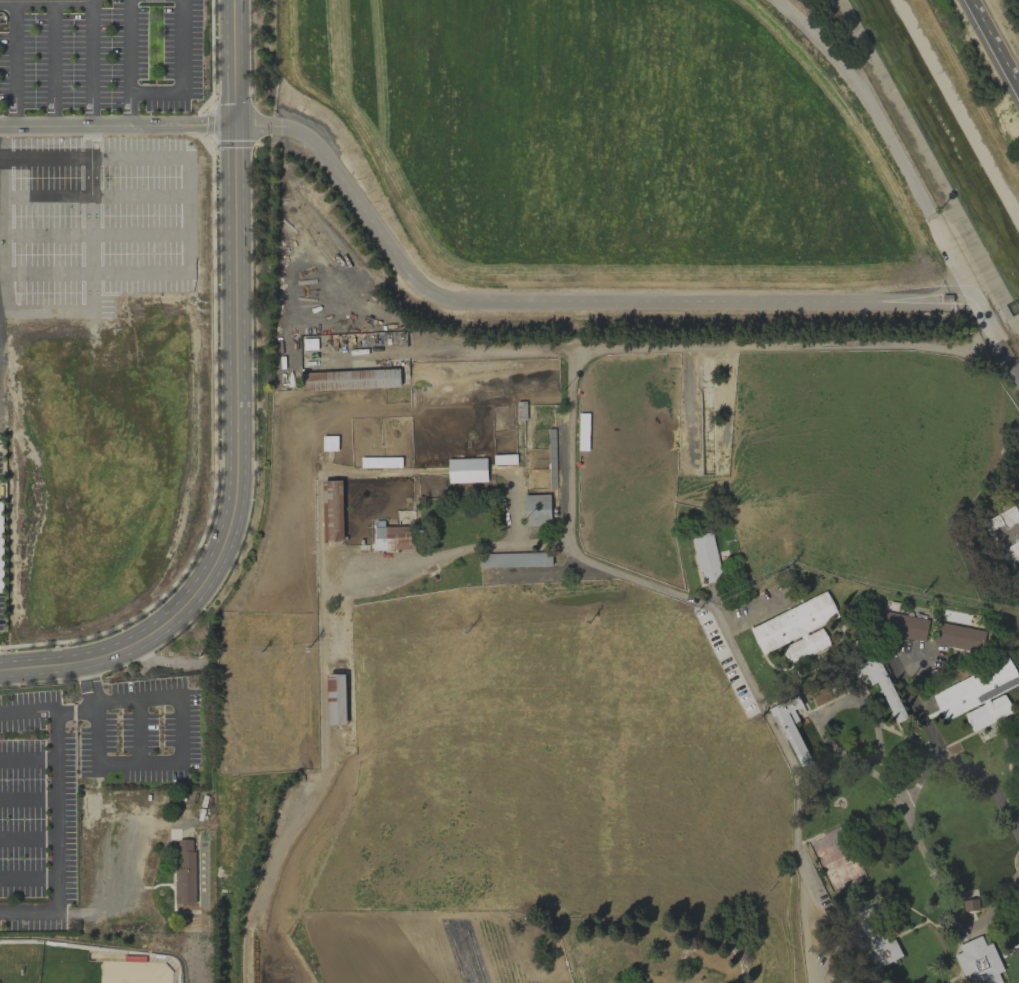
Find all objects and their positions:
road: (43, 1)
road: (997, 39)
parking lot: (99, 57)
road: (90, 62)
road: (128, 62)
road: (226, 62)
road: (241, 62)
road: (15, 63)
road: (52, 63)
road: (181, 69)
road: (217, 94)
road: (210, 122)
road: (158, 124)
traffic signals: (227, 124)
road: (234, 124)
traffic signals: (242, 124)
road: (45, 125)
road: (235, 143)
road: (218, 155)
road: (914, 185)
road: (96, 196)
road: (189, 214)
road: (91, 217)
parking lot: (94, 220)
road: (96, 233)
road: (5, 267)
road: (560, 300)
road: (447, 350)
building: (353, 379)
road: (229, 465)
road: (215, 470)
building: (467, 470)
road: (244, 477)
road: (568, 515)
building: (383, 519)
building: (1005, 530)
building: (394, 538)
road: (443, 556)
building: (706, 558)
building: (902, 625)
building: (796, 629)
building: (959, 637)
road: (92, 673)
road: (84, 681)
building: (881, 684)
road: (326, 689)
road: (96, 692)
building: (978, 695)
building: (335, 698)
road: (91, 701)
road: (37, 710)
road: (181, 720)
parking lot: (139, 728)
road: (138, 733)
road: (96, 740)
road: (944, 753)
road: (29, 759)
road: (29, 798)
parking lot: (36, 811)
road: (58, 812)
road: (29, 837)
building: (987, 867)
building: (186, 873)
building: (843, 875)
road: (29, 878)
building: (970, 904)
road: (1001, 911)
road: (39, 914)
building: (876, 943)
road: (576, 961)
building: (979, 961)
park: (104, 971)

